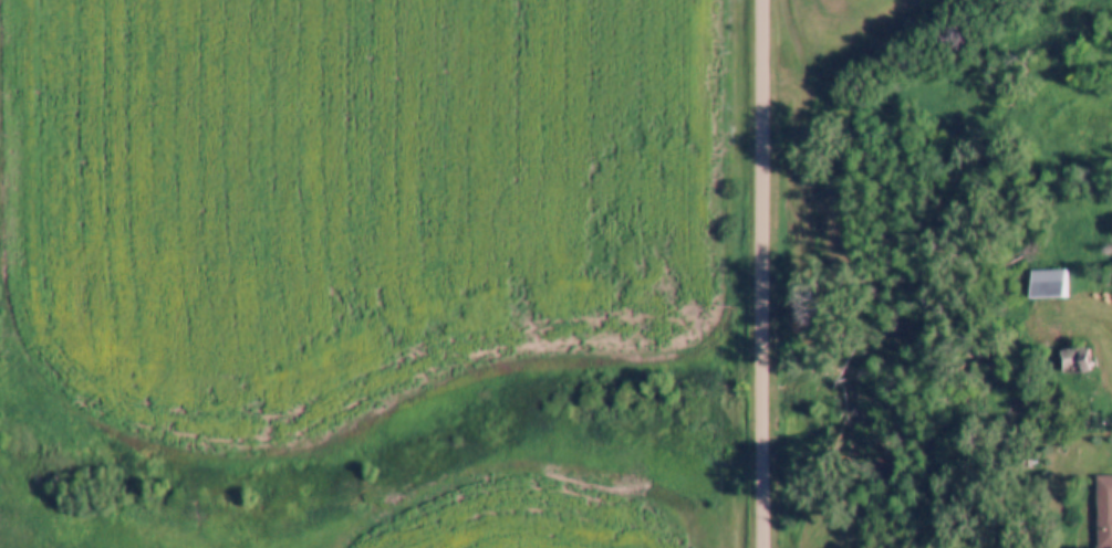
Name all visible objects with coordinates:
road: (763, 274)
building: (1047, 283)
building: (1072, 360)
building: (1103, 512)

